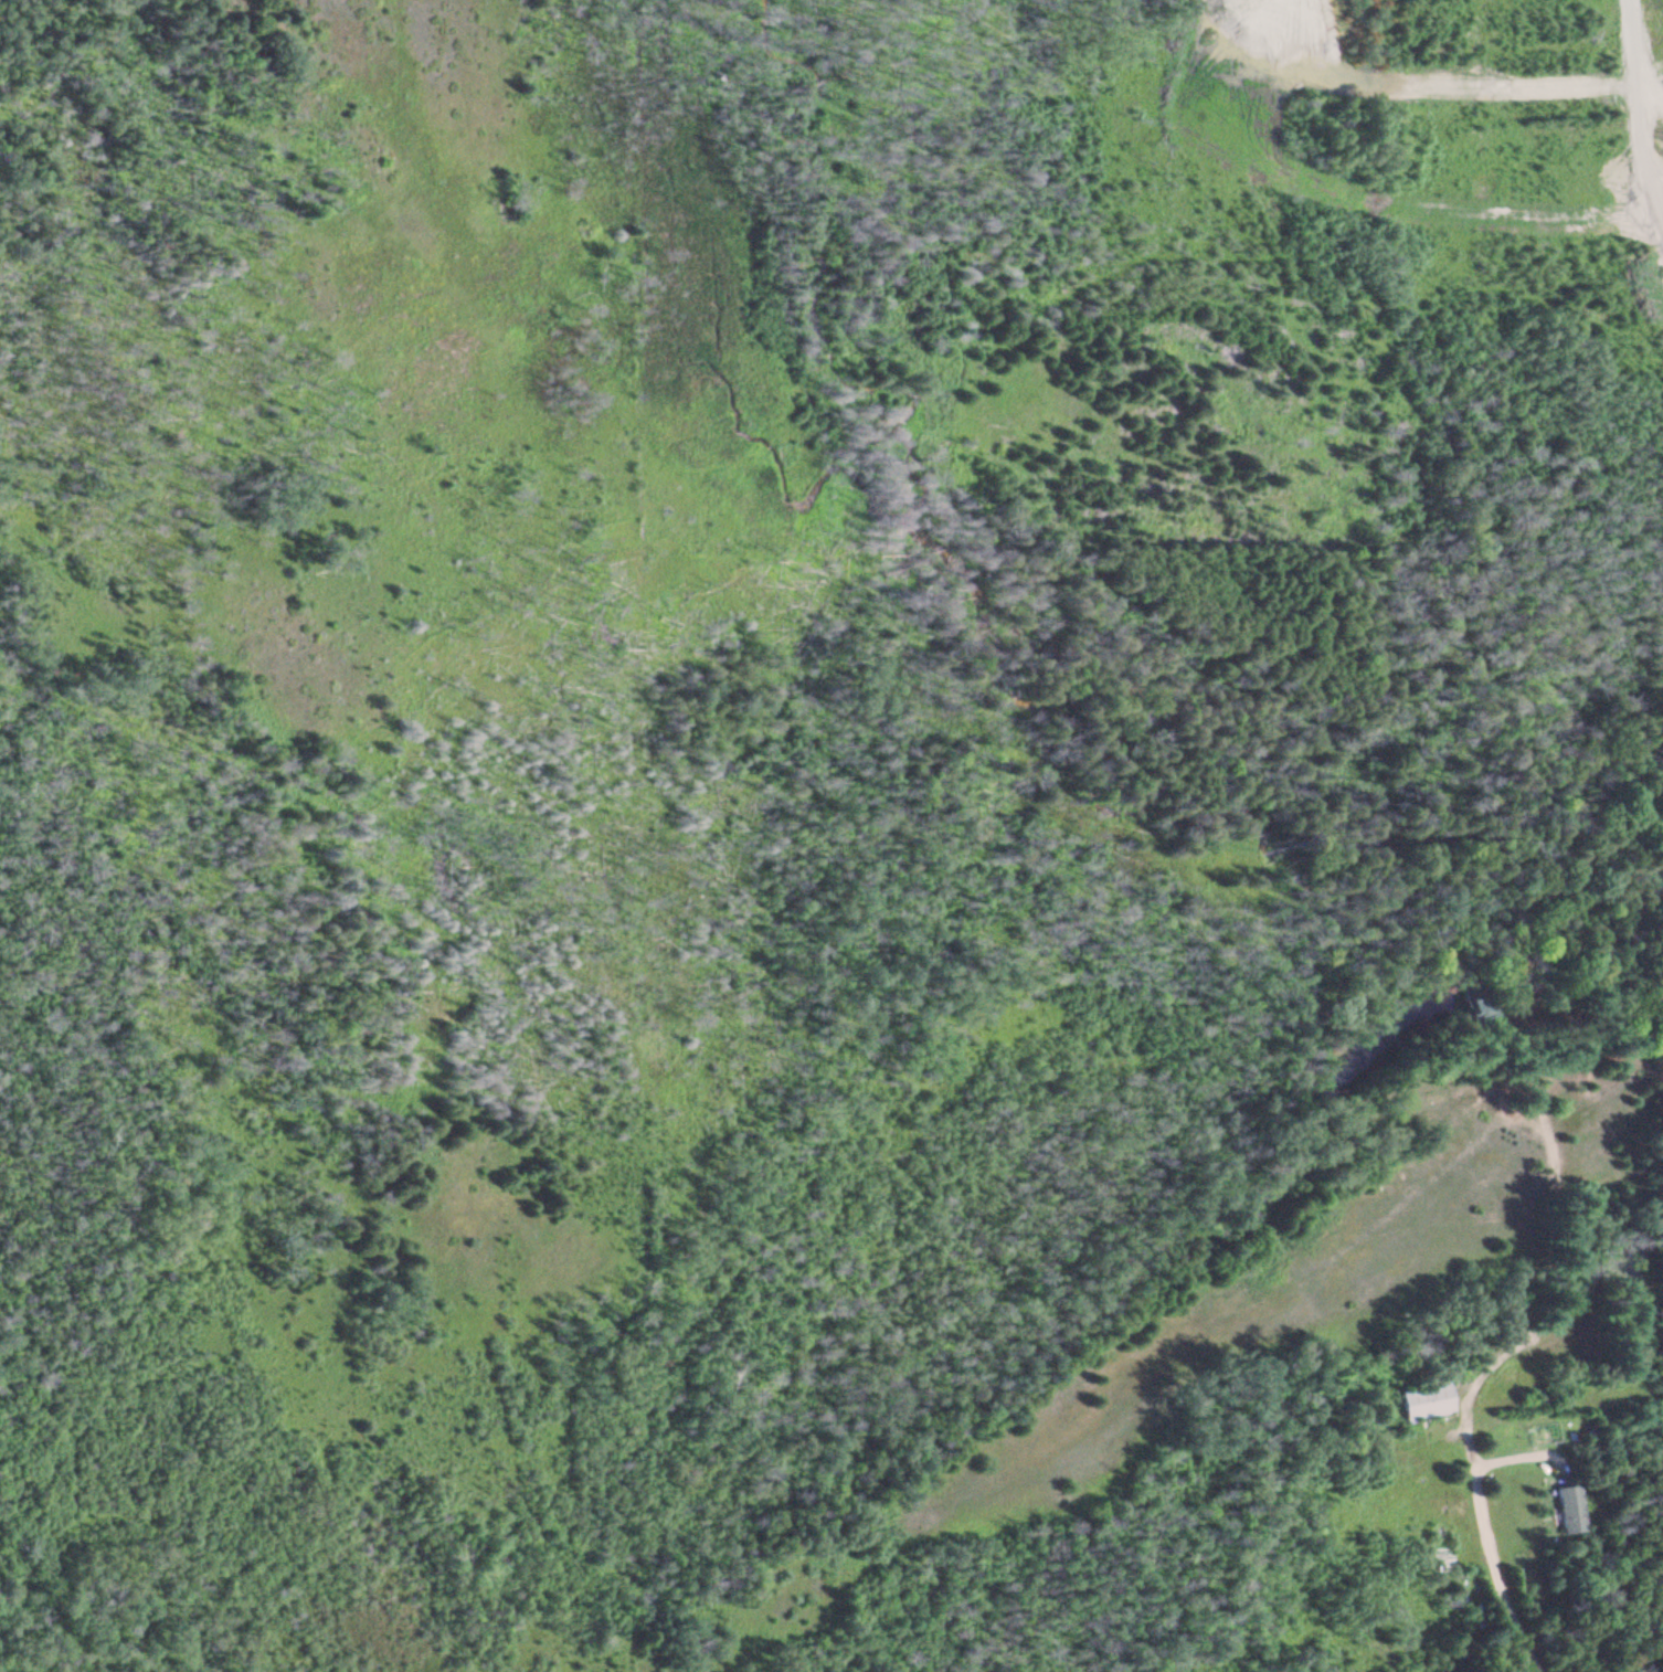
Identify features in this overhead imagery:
quarry: (1141, 263)
building: (1477, 1007)
building: (1428, 1104)
road: (1496, 1362)
building: (1424, 1404)
building: (1569, 1512)

